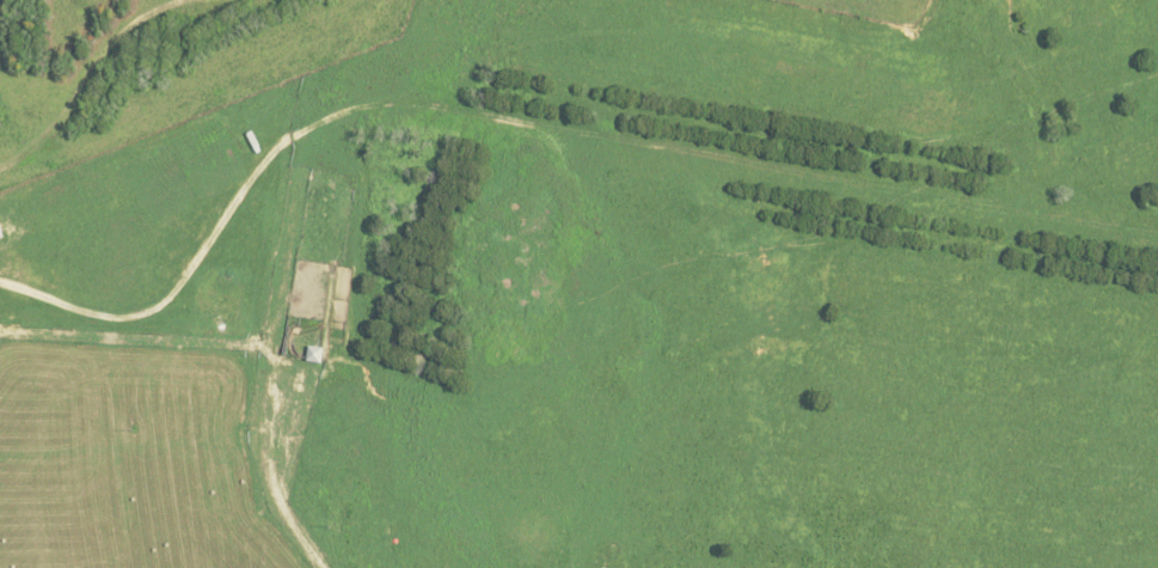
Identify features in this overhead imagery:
building: (2, 228)

